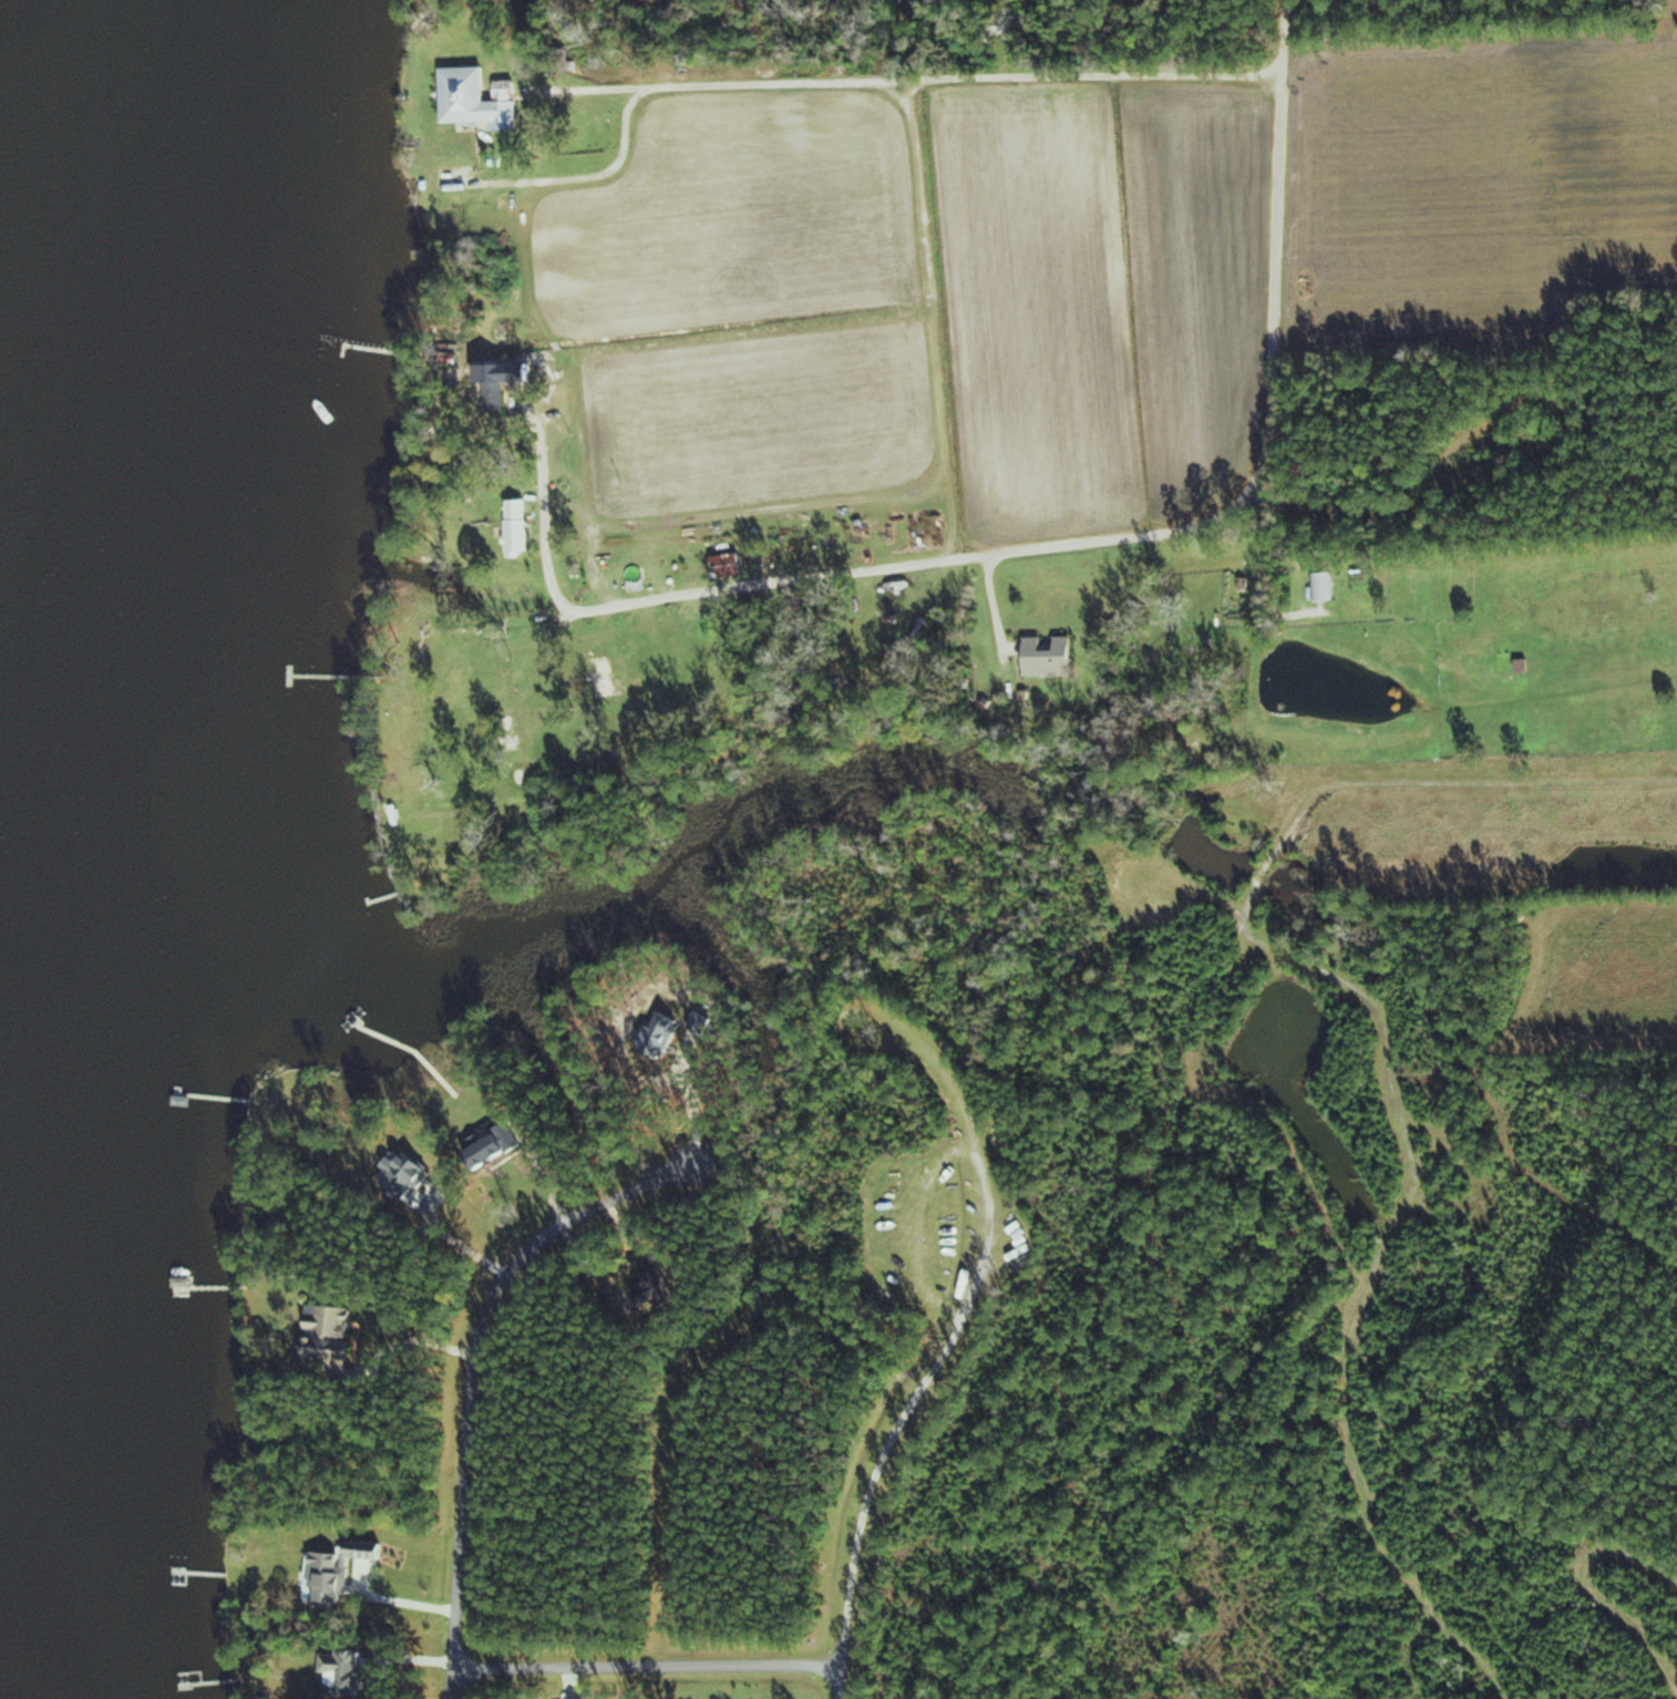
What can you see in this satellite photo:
road: (868, 76)
building: (480, 100)
building: (496, 385)
building: (518, 525)
road: (1061, 547)
building: (731, 565)
building: (1325, 587)
building: (888, 619)
building: (1052, 657)
building: (474, 688)
building: (534, 770)
building: (495, 1145)
building: (1023, 1255)
building: (657, 1288)
building: (332, 1335)
road: (938, 1370)
road: (476, 1386)
building: (341, 1572)
road: (654, 1664)
building: (347, 1675)

